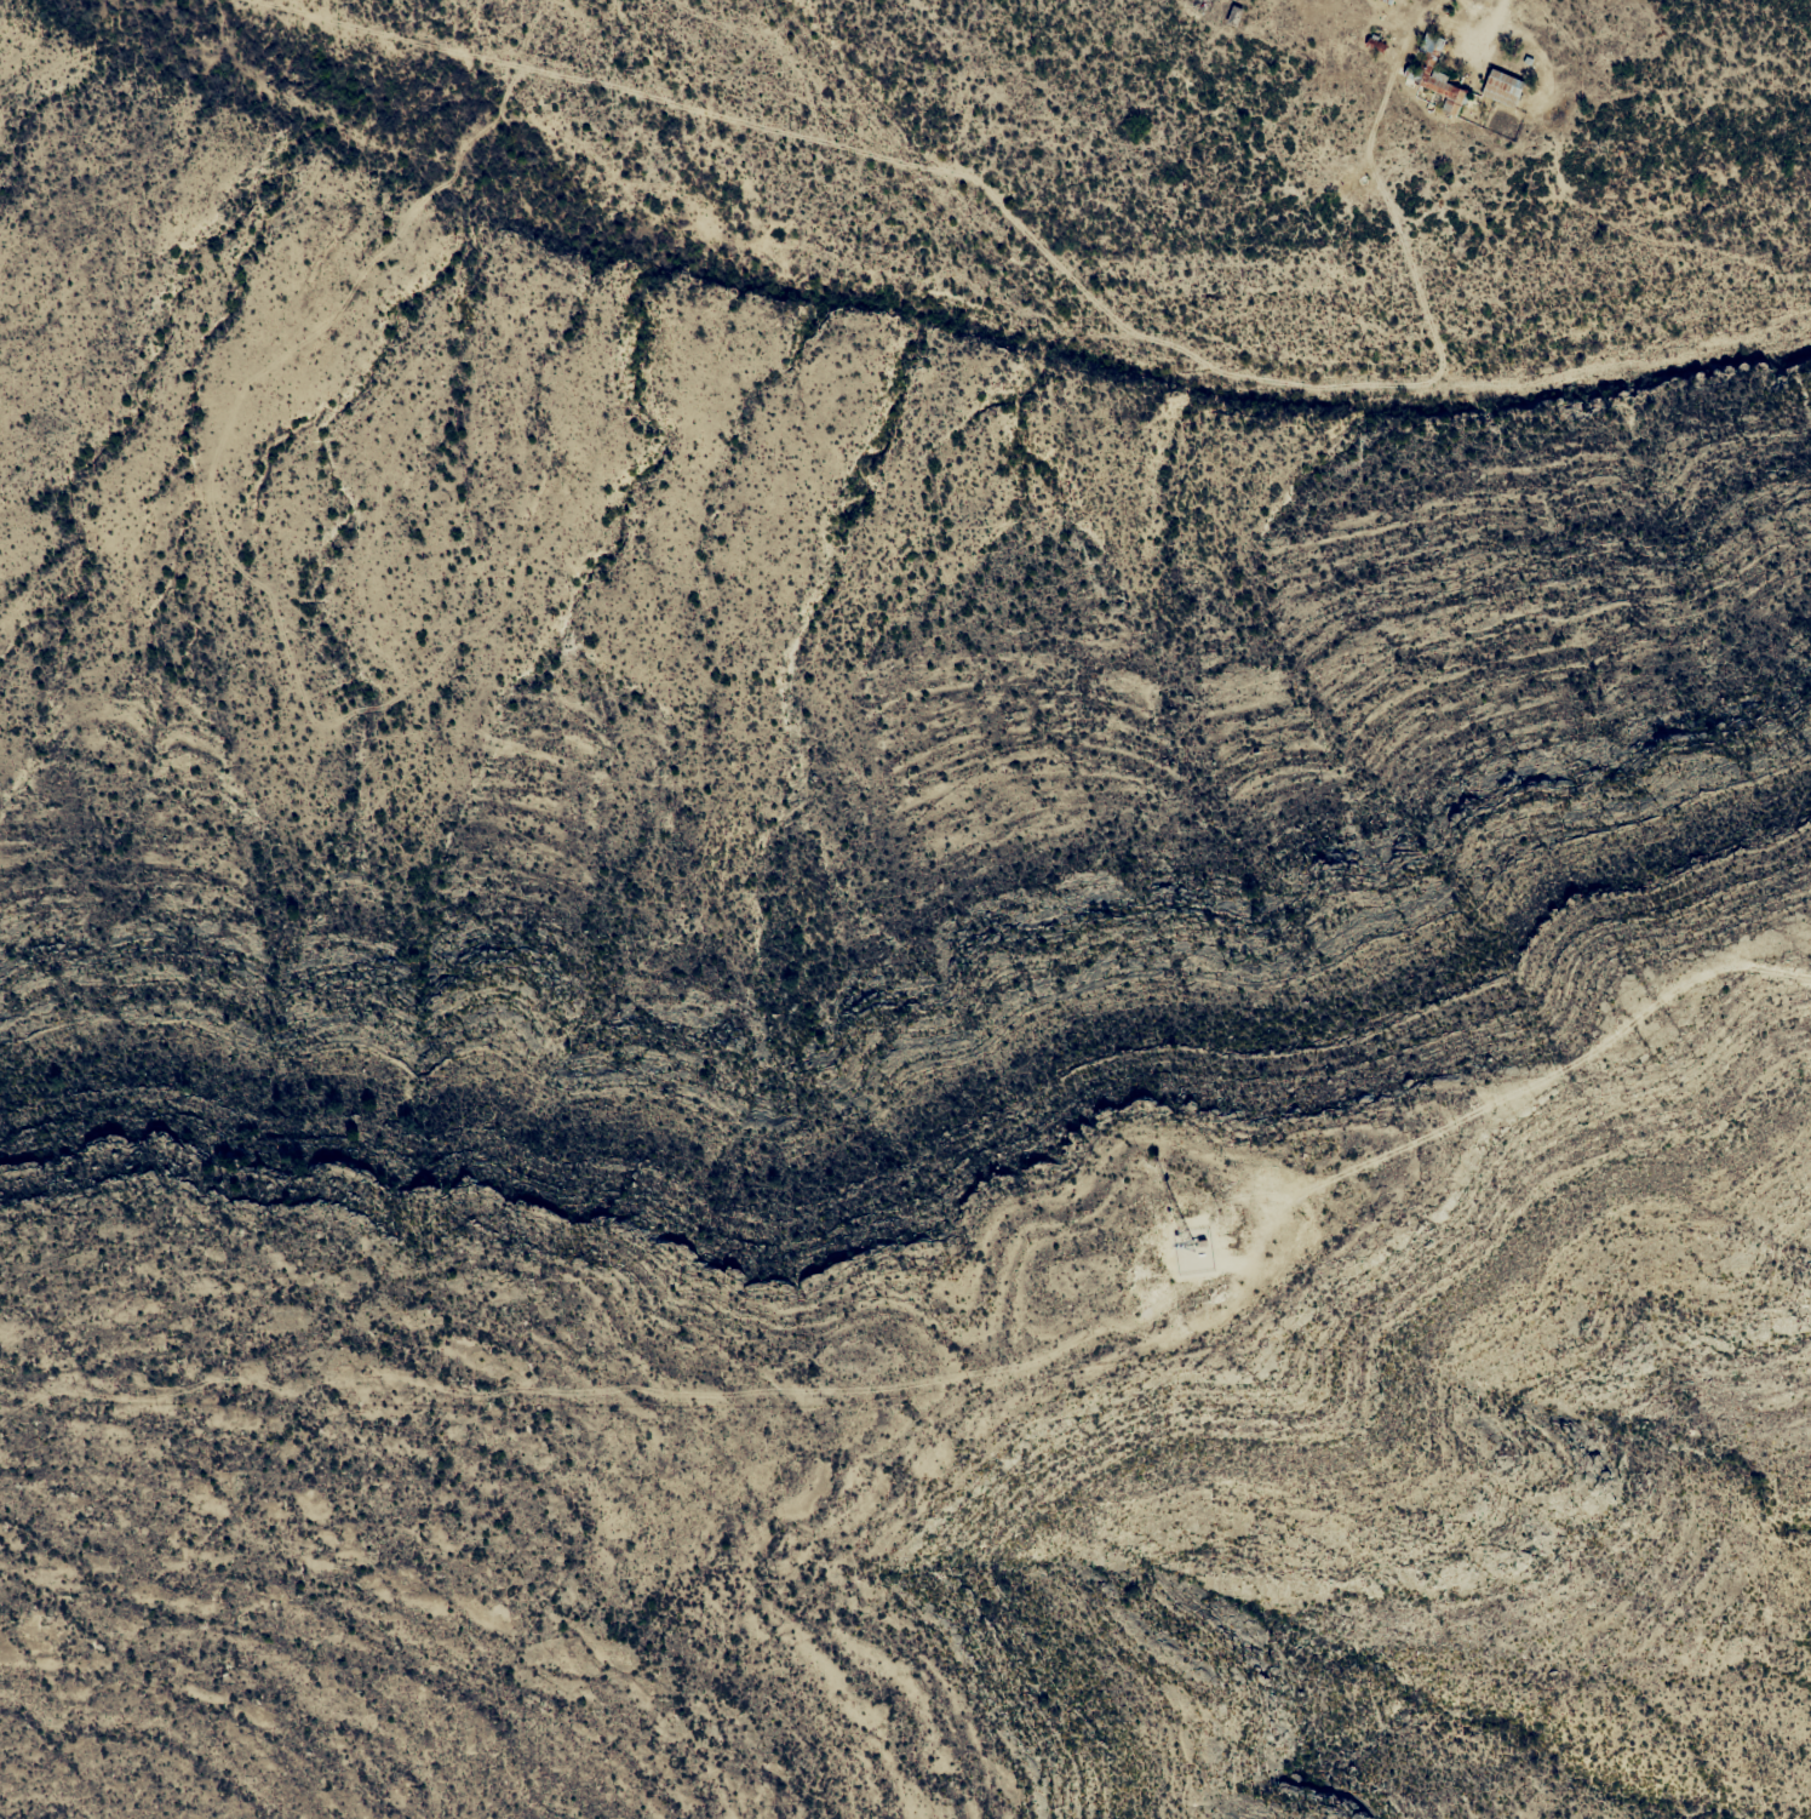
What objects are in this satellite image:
building: (1381, 0)
building: (1233, 16)
road: (1488, 18)
building: (1438, 74)
building: (1502, 87)
road: (965, 1373)

